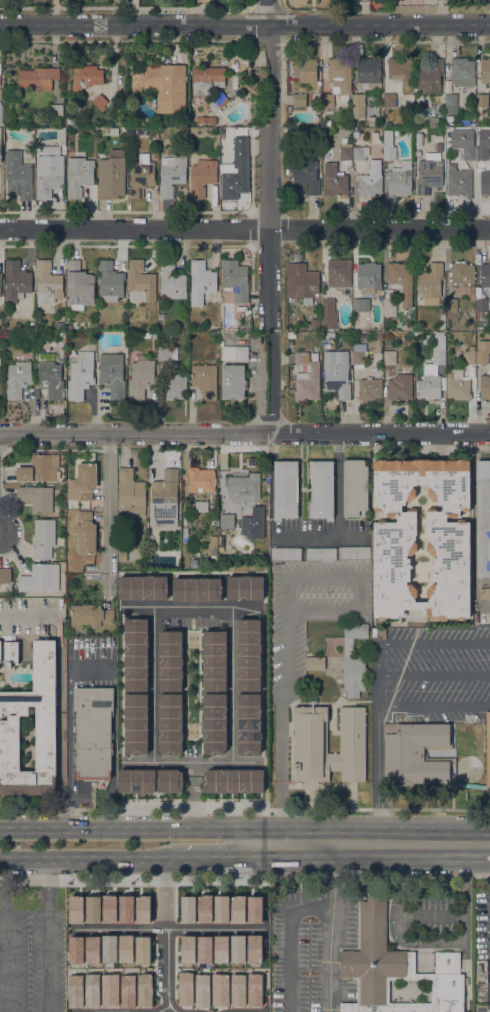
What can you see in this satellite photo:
road: (245, 23)
building: (0, 68)
building: (304, 69)
building: (399, 70)
building: (485, 70)
building: (369, 72)
building: (462, 72)
building: (430, 76)
building: (85, 77)
building: (339, 77)
building: (38, 78)
building: (206, 80)
building: (163, 85)
building: (0, 94)
building: (299, 99)
building: (389, 100)
building: (406, 100)
building: (482, 100)
building: (99, 101)
building: (327, 101)
building: (216, 104)
building: (358, 105)
building: (450, 108)
building: (57, 110)
building: (437, 110)
building: (0, 113)
building: (205, 120)
building: (432, 121)
building: (71, 122)
building: (326, 123)
building: (416, 123)
building: (471, 130)
building: (92, 131)
building: (387, 134)
building: (61, 136)
building: (1, 139)
building: (419, 139)
building: (440, 147)
building: (51, 151)
building: (346, 151)
building: (358, 153)
building: (389, 153)
building: (417, 153)
building: (469, 153)
building: (482, 153)
building: (236, 170)
building: (429, 173)
building: (171, 174)
building: (18, 175)
building: (48, 175)
building: (78, 175)
building: (111, 175)
building: (141, 176)
building: (306, 176)
building: (202, 177)
building: (334, 181)
building: (399, 182)
building: (459, 182)
building: (485, 183)
building: (369, 184)
road: (268, 216)
road: (245, 228)
building: (337, 273)
building: (461, 273)
building: (368, 277)
building: (485, 277)
building: (16, 280)
building: (235, 280)
building: (141, 281)
building: (171, 281)
building: (401, 281)
building: (110, 282)
building: (201, 282)
building: (305, 282)
building: (0, 283)
building: (47, 283)
building: (430, 283)
building: (79, 286)
building: (389, 303)
building: (451, 304)
building: (361, 305)
building: (481, 308)
building: (328, 313)
building: (161, 317)
building: (315, 324)
building: (60, 326)
building: (214, 328)
building: (146, 335)
building: (291, 335)
building: (326, 335)
building: (438, 350)
building: (233, 352)
building: (482, 352)
building: (167, 353)
building: (358, 355)
building: (389, 357)
building: (469, 357)
building: (336, 373)
building: (80, 375)
building: (112, 375)
building: (313, 375)
building: (141, 377)
building: (50, 379)
building: (17, 380)
building: (205, 380)
building: (233, 382)
building: (429, 383)
building: (0, 385)
building: (457, 385)
building: (485, 385)
building: (174, 386)
building: (400, 387)
building: (369, 388)
road: (245, 433)
building: (39, 469)
building: (201, 479)
building: (82, 482)
road: (337, 485)
building: (244, 487)
building: (354, 487)
building: (285, 489)
building: (321, 489)
building: (130, 494)
building: (37, 498)
building: (165, 500)
building: (201, 506)
road: (109, 515)
building: (483, 518)
building: (227, 521)
building: (185, 532)
building: (85, 533)
building: (449, 537)
building: (44, 538)
road: (319, 538)
building: (354, 553)
building: (285, 554)
building: (321, 554)
building: (5, 575)
road: (325, 577)
building: (40, 578)
building: (142, 585)
building: (244, 587)
building: (196, 588)
road: (289, 593)
road: (361, 593)
building: (484, 593)
road: (193, 604)
road: (325, 609)
building: (30, 614)
building: (91, 615)
road: (435, 644)
road: (288, 652)
building: (9, 653)
building: (248, 653)
building: (136, 654)
building: (214, 660)
building: (170, 661)
building: (353, 661)
building: (315, 663)
road: (92, 666)
road: (379, 674)
road: (434, 674)
road: (153, 682)
road: (233, 683)
road: (434, 705)
building: (45, 718)
building: (213, 722)
building: (249, 723)
building: (135, 724)
building: (170, 724)
building: (310, 730)
building: (93, 732)
building: (488, 750)
building: (415, 754)
road: (193, 761)
road: (283, 768)
road: (379, 774)
building: (135, 779)
building: (167, 779)
building: (234, 783)
road: (196, 795)
road: (124, 830)
road: (368, 841)
road: (90, 855)
road: (215, 856)
road: (332, 926)
road: (168, 930)
road: (7, 933)
road: (49, 933)
road: (165, 935)
road: (291, 939)
road: (464, 941)
building: (142, 950)
building: (396, 969)
building: (184, 987)
building: (143, 989)
building: (201, 989)
building: (219, 989)
building: (236, 989)
road: (4, 1007)
road: (162, 1009)

